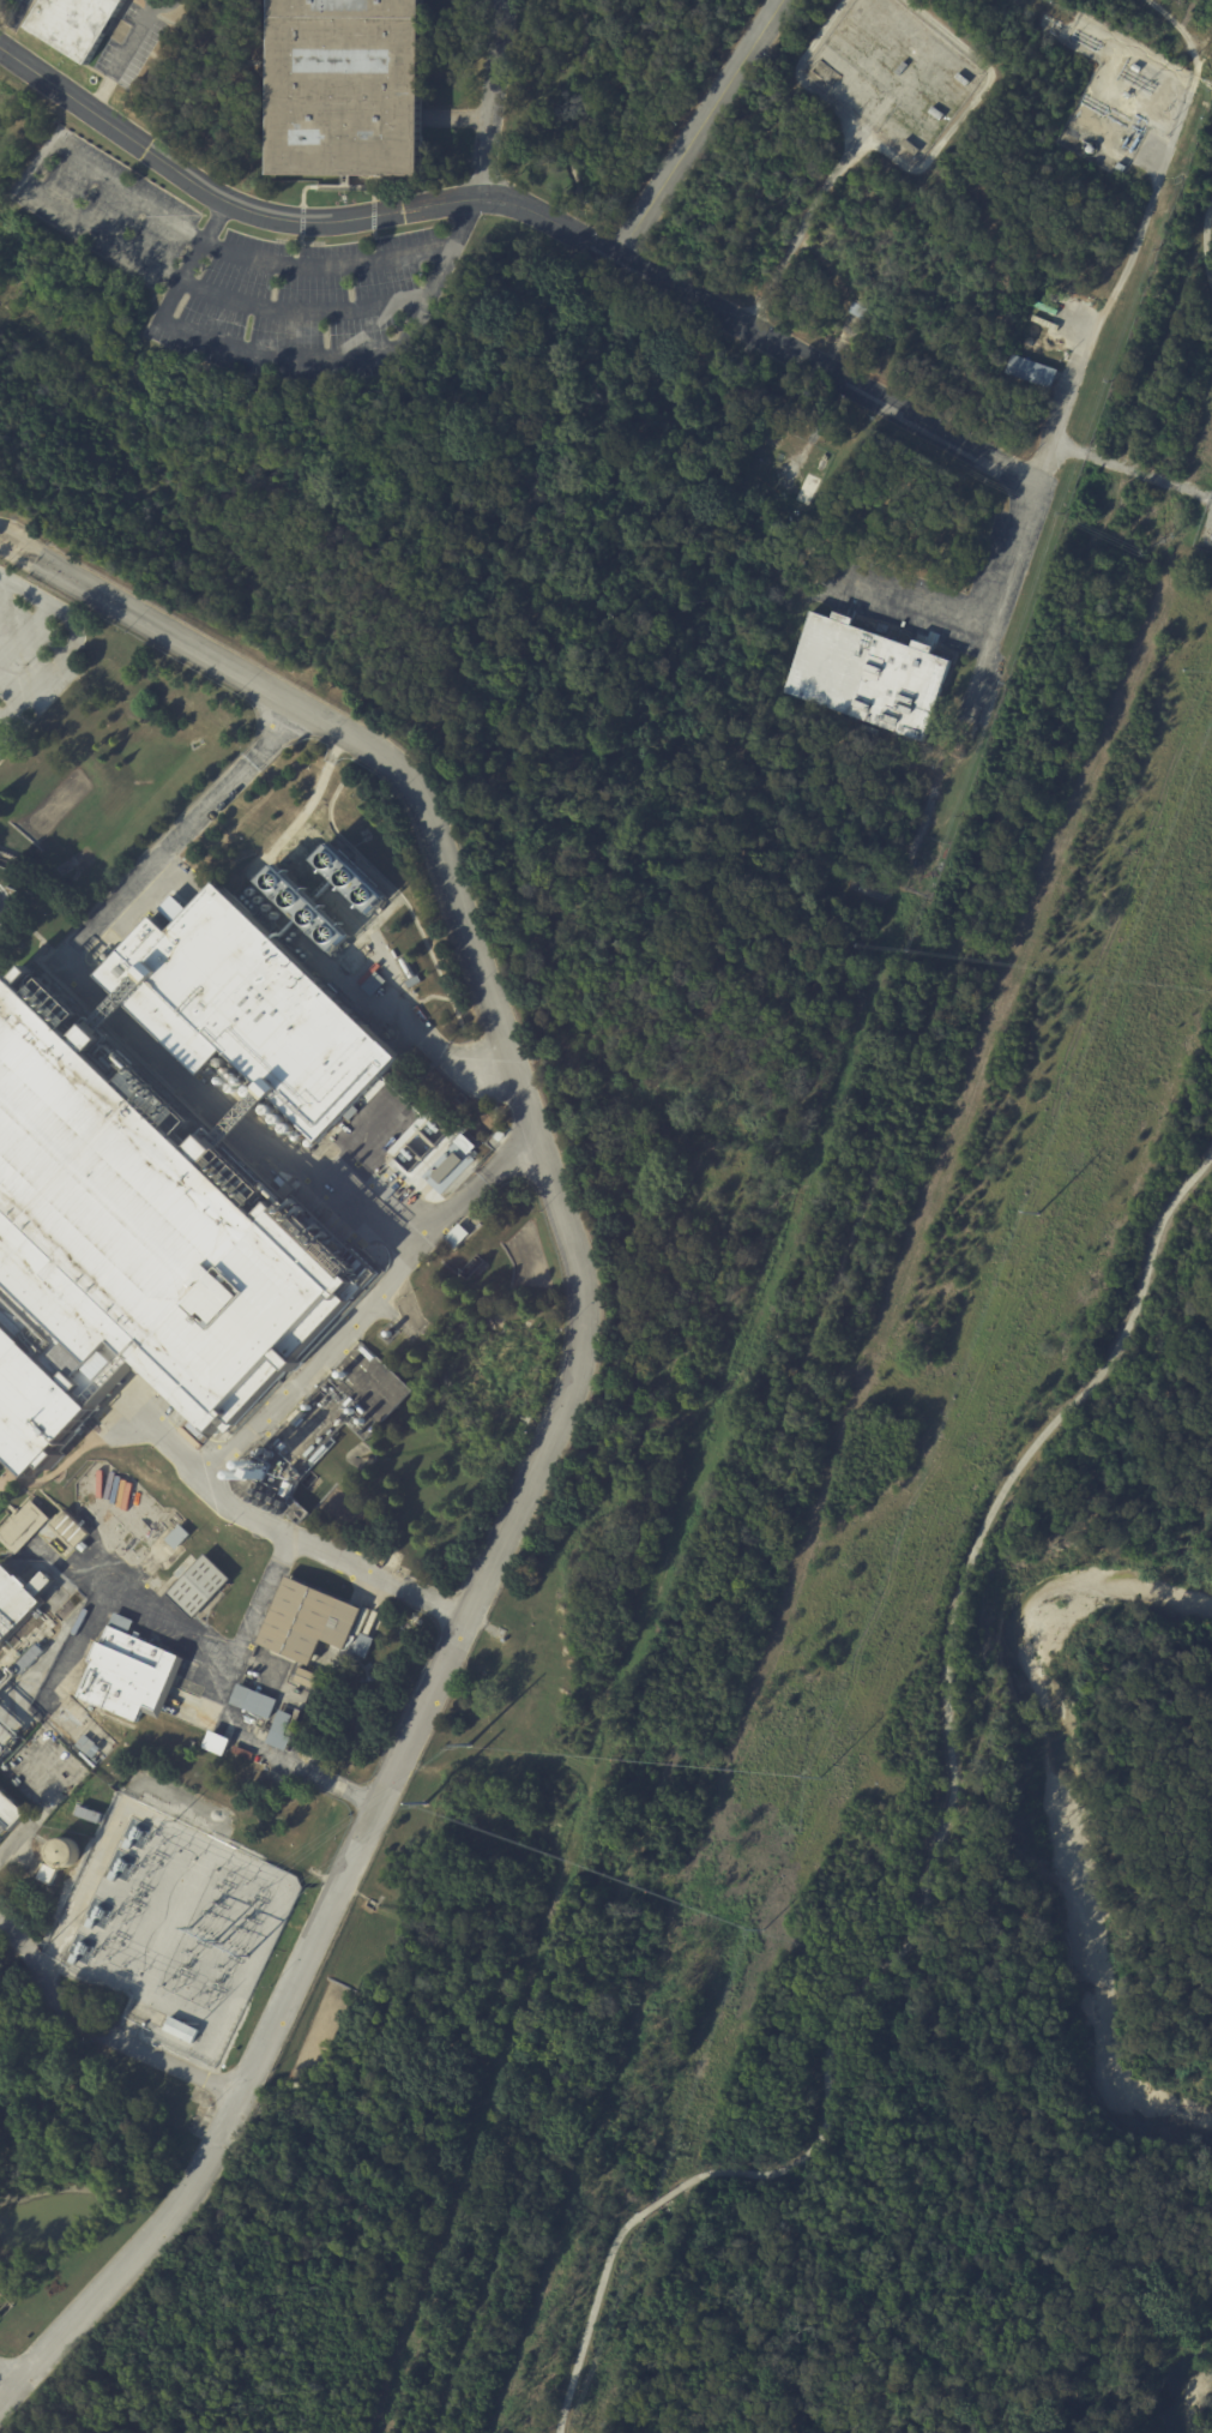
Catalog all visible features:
road: (168, 6)
building: (76, 25)
road: (128, 58)
building: (1136, 68)
building: (344, 88)
building: (1127, 95)
road: (459, 113)
road: (697, 126)
road: (1169, 154)
road: (36, 166)
building: (1121, 167)
road: (477, 180)
road: (532, 208)
road: (1207, 209)
road: (1205, 253)
road: (193, 260)
building: (1051, 295)
building: (1078, 298)
building: (1044, 308)
building: (860, 310)
building: (1043, 320)
building: (1033, 347)
road: (279, 355)
building: (1032, 372)
building: (777, 434)
building: (772, 443)
building: (822, 462)
building: (808, 488)
building: (774, 495)
building: (782, 498)
road: (1023, 507)
building: (809, 567)
road: (5, 585)
road: (49, 603)
road: (24, 629)
building: (870, 674)
road: (35, 683)
building: (983, 702)
road: (185, 834)
building: (193, 875)
building: (349, 876)
building: (302, 908)
road: (2, 914)
road: (32, 933)
building: (361, 960)
building: (414, 980)
building: (373, 981)
building: (247, 1007)
building: (409, 1119)
building: (451, 1166)
power tower: (1041, 1214)
building: (459, 1233)
building: (127, 1254)
road: (563, 1412)
road: (265, 1413)
building: (299, 1417)
road: (163, 1441)
building: (279, 1441)
building: (284, 1446)
building: (263, 1471)
building: (288, 1488)
building: (22, 1526)
building: (70, 1530)
building: (176, 1536)
building: (402, 1570)
building: (197, 1585)
building: (16, 1610)
building: (307, 1620)
building: (362, 1645)
building: (28, 1658)
building: (126, 1670)
building: (5, 1676)
building: (308, 1678)
road: (945, 1700)
building: (266, 1713)
building: (2, 1722)
building: (216, 1742)
power tower: (468, 1743)
building: (242, 1752)
power tower: (820, 1777)
power tower: (423, 1802)
building: (8, 1813)
building: (89, 1814)
building: (133, 1837)
building: (61, 1850)
building: (117, 1869)
building: (48, 1874)
building: (95, 1917)
power tower: (762, 1929)
power substation: (181, 1932)
building: (78, 1952)
building: (181, 2031)
road: (97, 2032)
road: (659, 2201)
road: (589, 2320)
road: (7, 2374)

